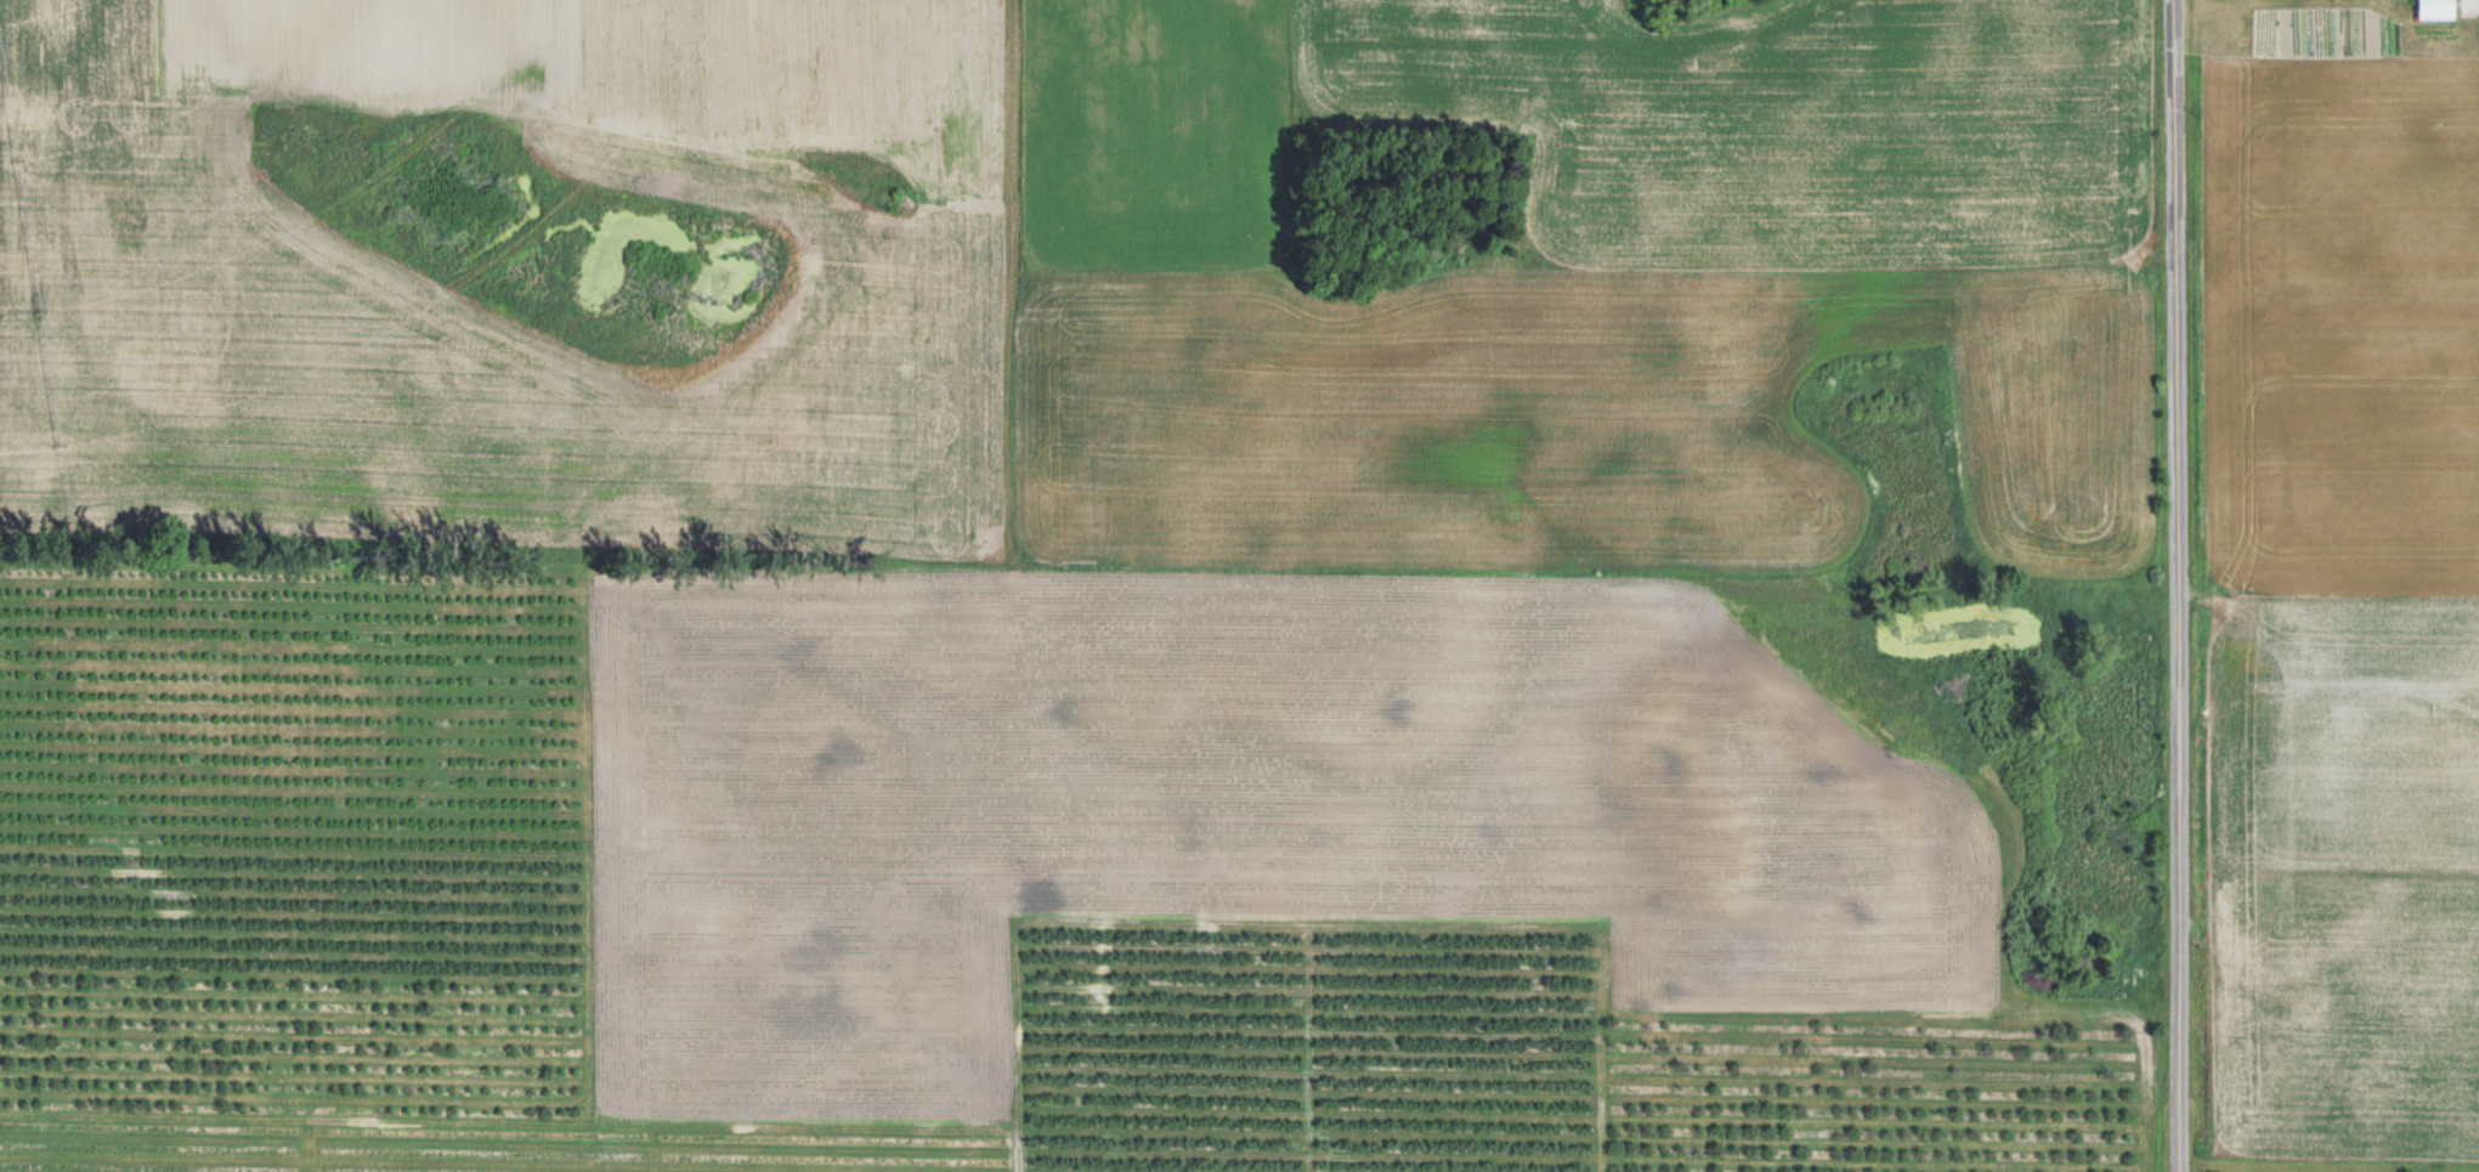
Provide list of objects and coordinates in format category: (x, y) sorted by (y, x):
building: (2432, 10)
road: (2151, 585)

